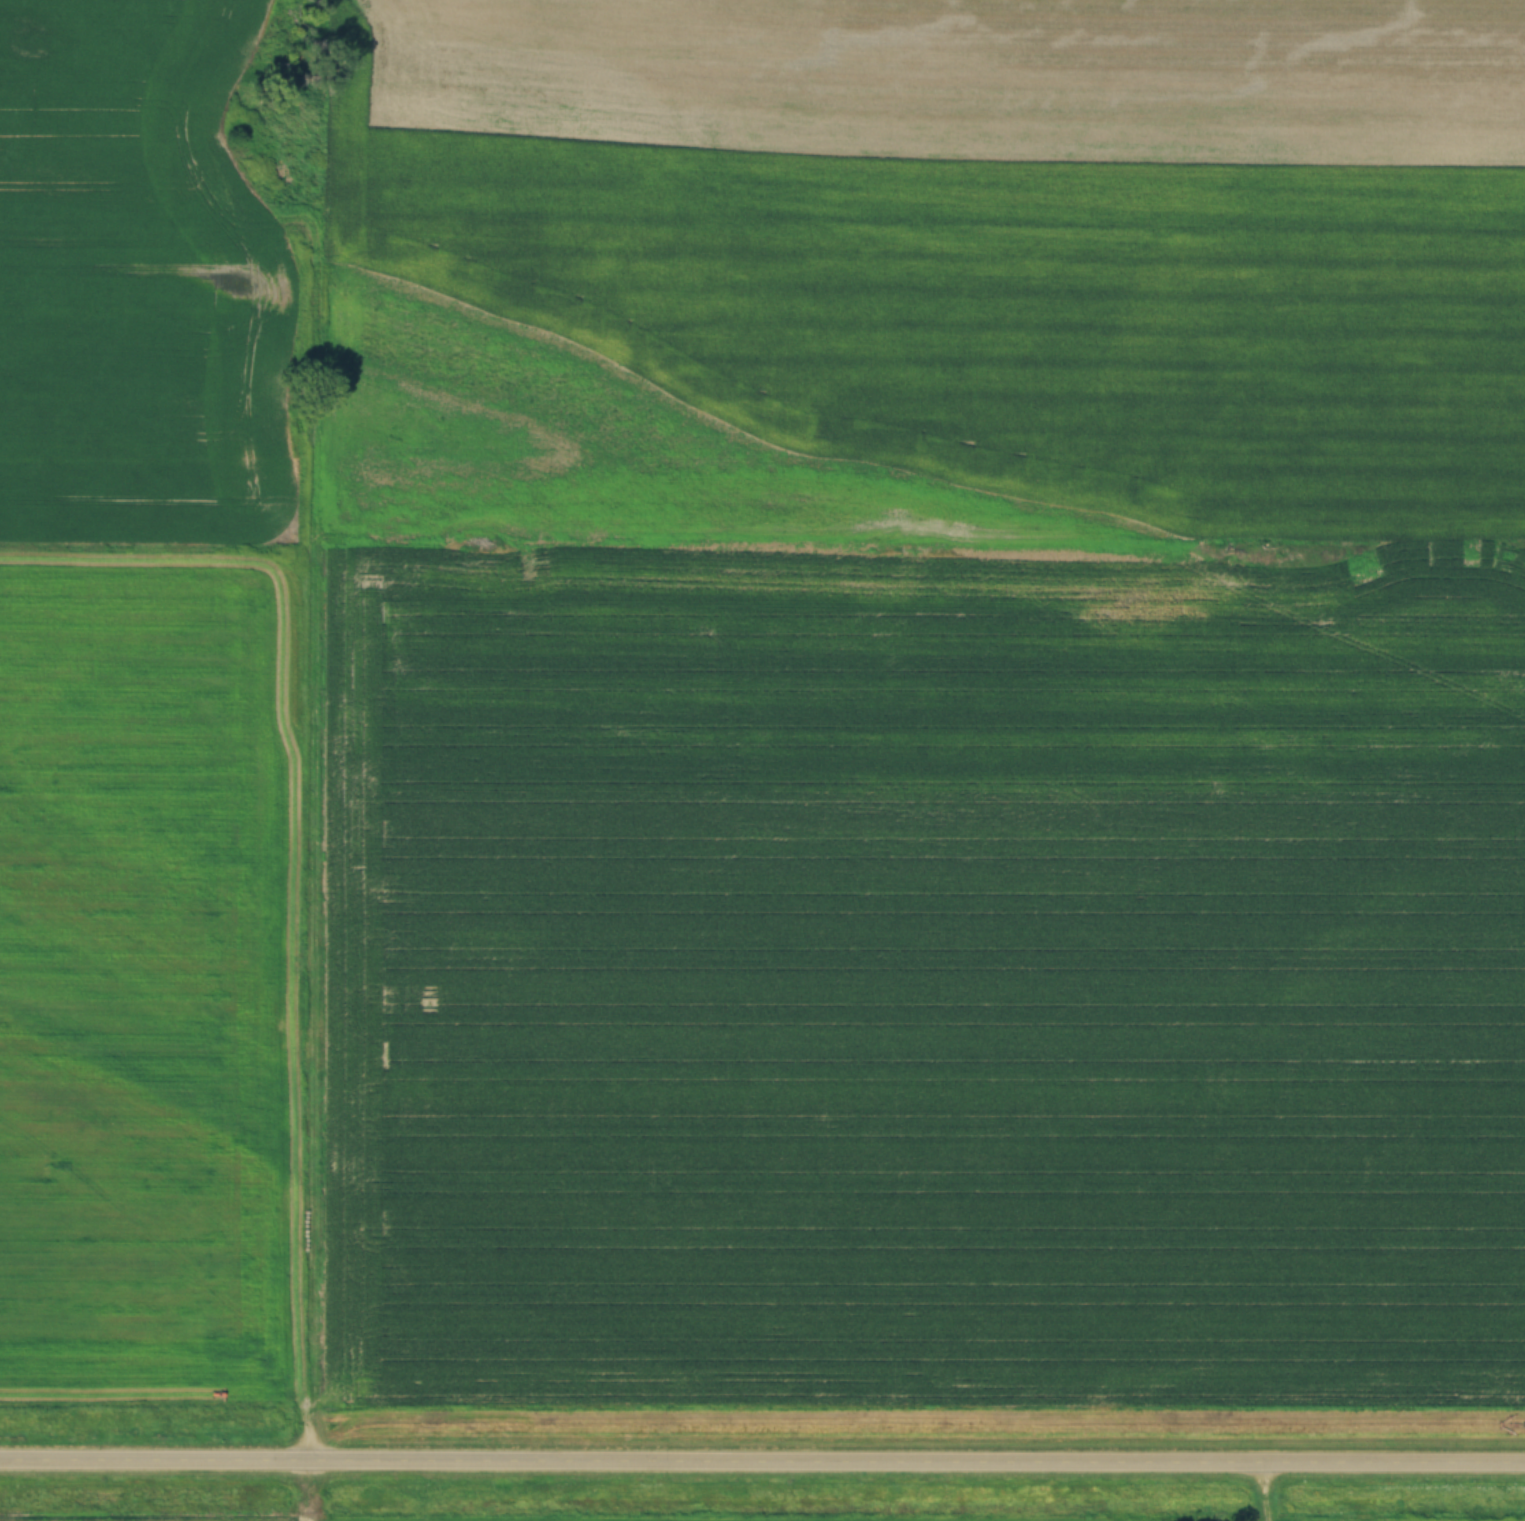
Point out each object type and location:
road: (762, 1467)

